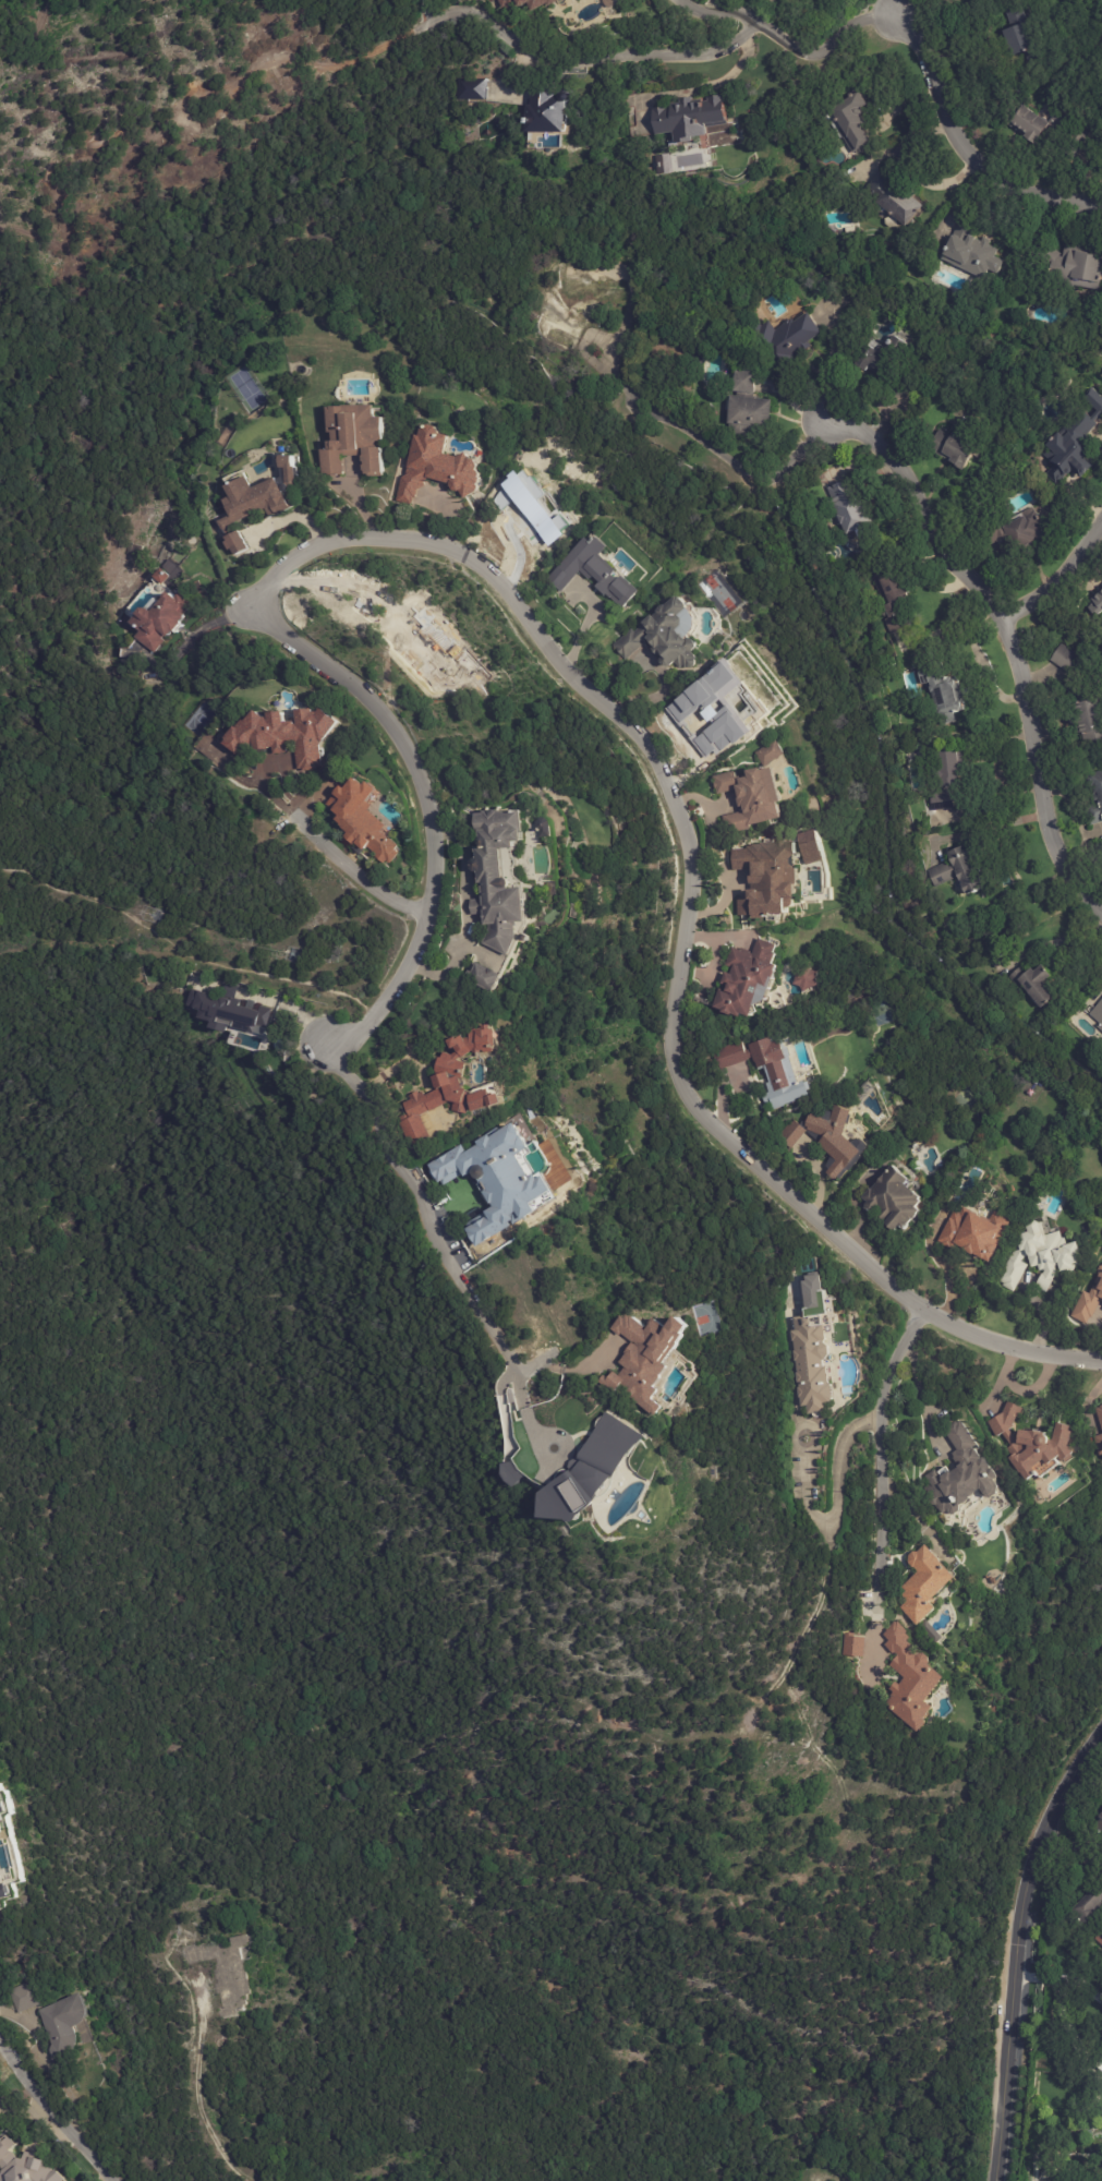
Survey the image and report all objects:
building: (533, 2)
building: (613, 2)
building: (507, 3)
building: (1015, 39)
road: (790, 45)
road: (578, 59)
building: (479, 89)
building: (557, 112)
building: (687, 117)
building: (848, 121)
building: (1025, 124)
building: (1076, 137)
road: (964, 148)
building: (657, 162)
building: (894, 200)
building: (971, 253)
building: (1075, 266)
building: (574, 297)
building: (784, 336)
building: (887, 364)
building: (744, 409)
building: (360, 439)
building: (1074, 443)
building: (955, 450)
road: (729, 458)
building: (1010, 461)
building: (443, 465)
building: (262, 501)
building: (1041, 506)
building: (846, 510)
building: (1017, 531)
building: (172, 567)
road: (1057, 573)
building: (593, 575)
building: (720, 593)
building: (892, 598)
building: (1095, 602)
building: (161, 620)
road: (1009, 631)
building: (664, 635)
building: (740, 658)
building: (1063, 658)
road: (571, 674)
building: (943, 697)
building: (718, 700)
building: (1085, 720)
building: (279, 735)
building: (768, 752)
building: (945, 778)
building: (752, 797)
building: (1093, 797)
building: (360, 820)
building: (538, 826)
building: (546, 827)
road: (995, 828)
building: (811, 846)
building: (957, 871)
road: (348, 872)
building: (500, 878)
building: (765, 878)
building: (485, 978)
building: (801, 978)
building: (748, 981)
building: (1033, 983)
building: (227, 1010)
building: (1098, 1014)
building: (764, 1069)
building: (446, 1086)
building: (831, 1140)
building: (498, 1177)
building: (894, 1201)
building: (972, 1234)
road: (438, 1245)
building: (1038, 1257)
building: (808, 1280)
building: (1088, 1301)
building: (652, 1358)
building: (812, 1365)
road: (923, 1396)
building: (1101, 1407)
building: (1100, 1413)
building: (1030, 1442)
building: (1100, 1444)
road: (881, 1461)
building: (591, 1469)
building: (712, 1473)
building: (961, 1477)
road: (834, 1516)
building: (922, 1586)
building: (852, 1648)
building: (909, 1678)
building: (2, 1804)
building: (1101, 1816)
building: (1, 1828)
building: (1100, 1831)
road: (1074, 1839)
building: (2, 1885)
building: (1088, 1907)
building: (0, 1908)
building: (1101, 1930)
building: (1100, 1939)
road: (1015, 1955)
building: (226, 1971)
building: (29, 1997)
building: (71, 2024)
building: (1099, 2061)
road: (52, 2116)
building: (25, 2165)

